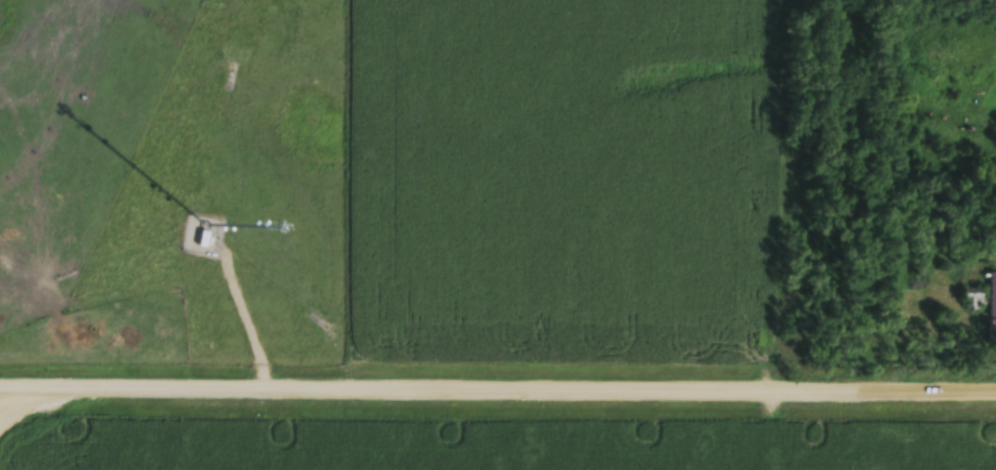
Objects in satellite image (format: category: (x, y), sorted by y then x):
building: (995, 136)
building: (992, 297)
road: (251, 312)
road: (497, 388)

